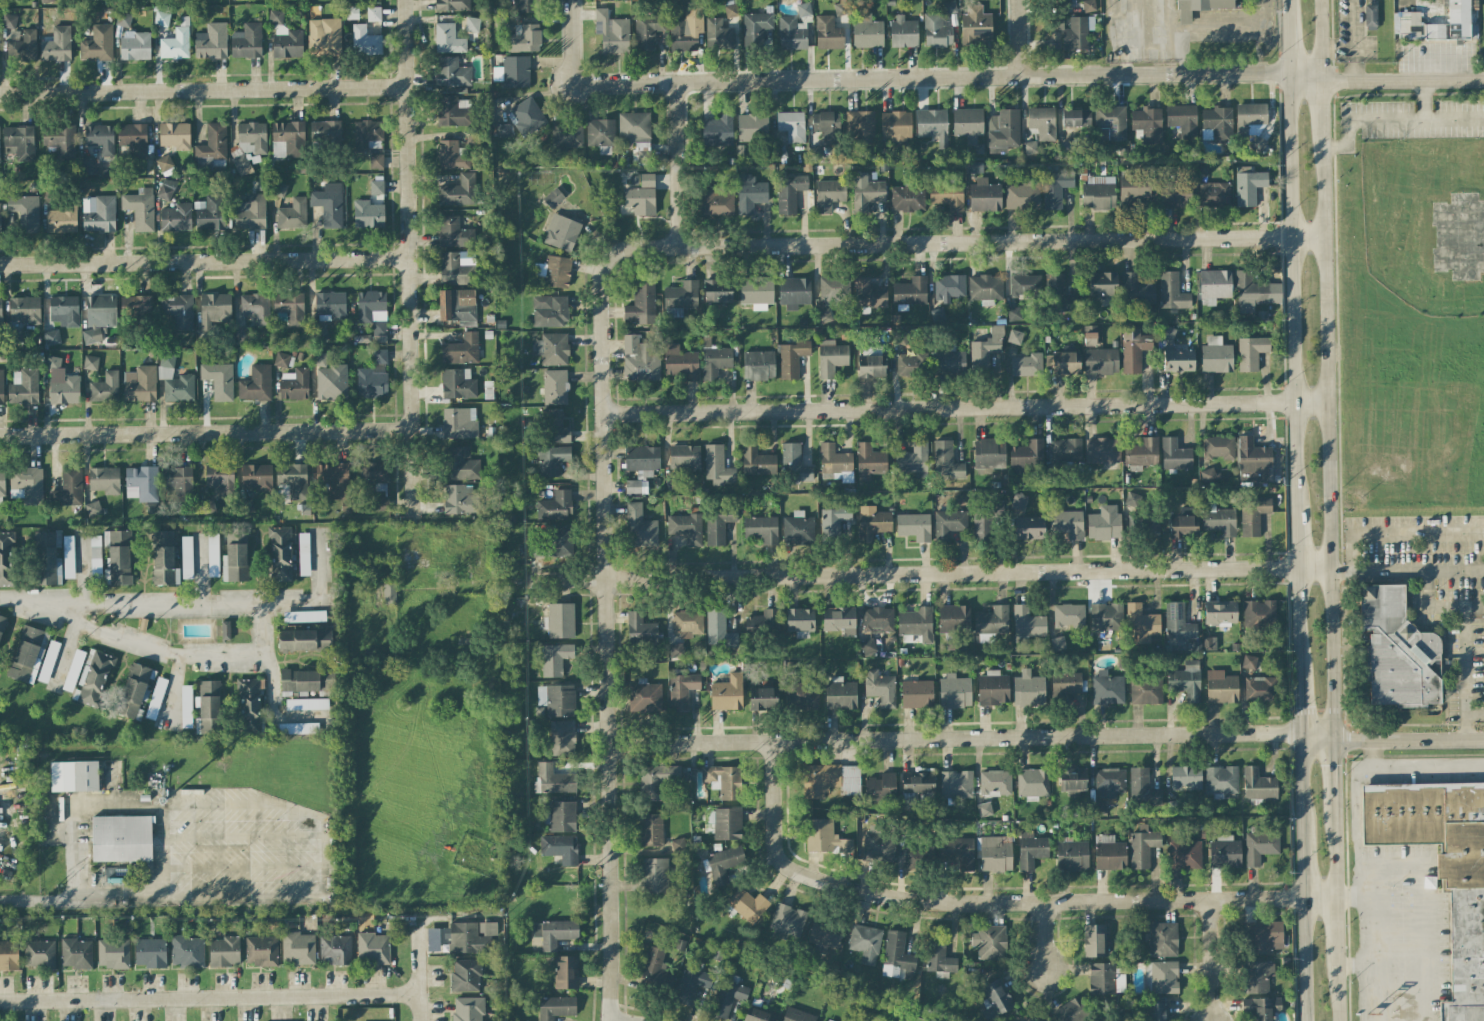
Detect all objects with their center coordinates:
building: (232, 0)
building: (45, 1)
building: (452, 5)
building: (1088, 5)
flagpole: (1334, 5)
building: (525, 6)
building: (1199, 8)
building: (803, 9)
building: (840, 9)
road: (1284, 10)
building: (730, 11)
building: (693, 12)
building: (373, 14)
flagpole: (1335, 15)
building: (1371, 16)
building: (275, 17)
building: (122, 19)
building: (9, 21)
flagpole: (1335, 23)
building: (1452, 23)
building: (1408, 24)
building: (471, 25)
building: (975, 25)
building: (939, 26)
building: (757, 29)
building: (611, 31)
building: (647, 31)
flagpole: (1335, 31)
building: (866, 32)
building: (903, 32)
building: (827, 33)
building: (1076, 33)
building: (718, 34)
building: (791, 34)
building: (324, 36)
building: (682, 36)
road: (1261, 36)
road: (1021, 37)
road: (1180, 38)
building: (447, 39)
building: (524, 39)
road: (1317, 39)
building: (246, 41)
building: (364, 41)
flagpole: (1335, 41)
road: (1354, 41)
building: (62, 42)
building: (176, 42)
building: (212, 42)
building: (97, 43)
building: (21, 45)
building: (135, 46)
road: (1285, 47)
flagpole: (1335, 50)
road: (574, 51)
road: (1125, 52)
flagpole: (1335, 58)
flagpole: (1347, 62)
flagpole: (1360, 62)
building: (515, 71)
building: (451, 72)
road: (959, 75)
road: (1400, 81)
road: (204, 90)
road: (1422, 100)
road: (1318, 102)
building: (453, 111)
building: (526, 117)
building: (1075, 117)
building: (1249, 117)
building: (1182, 119)
road: (1388, 120)
building: (1041, 122)
building: (1110, 123)
building: (1148, 123)
building: (1218, 123)
building: (932, 125)
building: (752, 126)
building: (791, 126)
building: (827, 127)
building: (860, 127)
building: (895, 127)
building: (1003, 129)
building: (502, 130)
building: (324, 131)
building: (717, 131)
building: (635, 133)
building: (566, 134)
building: (600, 134)
building: (174, 135)
building: (252, 135)
building: (366, 136)
building: (100, 138)
building: (287, 139)
building: (60, 140)
building: (133, 140)
building: (19, 142)
building: (211, 147)
building: (1030, 147)
building: (815, 152)
building: (451, 155)
building: (244, 157)
building: (375, 161)
building: (164, 163)
road: (678, 164)
building: (86, 165)
building: (973, 167)
building: (1248, 185)
building: (376, 187)
building: (1055, 188)
building: (166, 189)
building: (1133, 189)
building: (279, 190)
building: (458, 192)
building: (787, 192)
building: (749, 193)
building: (1098, 193)
building: (1213, 194)
building: (828, 195)
building: (867, 195)
building: (1176, 195)
building: (641, 196)
building: (946, 196)
building: (984, 196)
building: (1022, 196)
building: (907, 197)
building: (553, 198)
building: (716, 201)
building: (328, 204)
building: (140, 208)
building: (25, 212)
building: (98, 213)
building: (210, 213)
building: (250, 213)
building: (292, 214)
building: (367, 214)
building: (176, 217)
building: (60, 219)
building: (0, 230)
building: (561, 232)
building: (453, 233)
road: (936, 242)
road: (411, 260)
road: (205, 262)
building: (457, 267)
building: (555, 271)
building: (1054, 284)
building: (1102, 284)
building: (1025, 285)
building: (1214, 286)
building: (948, 287)
building: (985, 288)
building: (717, 290)
building: (834, 290)
building: (1136, 290)
building: (910, 291)
building: (1171, 291)
building: (755, 292)
building: (794, 292)
building: (1249, 292)
building: (868, 294)
road: (1289, 294)
building: (680, 298)
building: (641, 303)
building: (136, 304)
building: (330, 305)
building: (457, 306)
building: (255, 307)
building: (290, 308)
building: (24, 309)
building: (213, 309)
building: (178, 310)
building: (64, 311)
building: (549, 311)
building: (373, 312)
building: (937, 316)
building: (0, 317)
building: (98, 317)
building: (319, 333)
building: (1089, 335)
building: (12, 336)
building: (900, 337)
building: (1014, 337)
building: (51, 338)
building: (551, 349)
building: (1133, 349)
building: (461, 350)
building: (985, 350)
building: (1250, 352)
building: (1175, 355)
building: (379, 356)
building: (1215, 356)
building: (830, 357)
building: (320, 359)
building: (639, 359)
building: (714, 359)
building: (791, 359)
building: (281, 360)
building: (1100, 361)
building: (53, 363)
building: (90, 363)
building: (680, 363)
building: (948, 363)
building: (1064, 363)
building: (911, 364)
building: (758, 365)
building: (1026, 365)
building: (870, 367)
building: (218, 380)
building: (174, 381)
building: (331, 382)
building: (370, 383)
building: (140, 384)
building: (255, 384)
building: (294, 384)
building: (457, 384)
building: (1, 387)
building: (23, 387)
building: (554, 387)
building: (104, 388)
building: (64, 389)
road: (964, 408)
building: (459, 423)
building: (555, 427)
road: (207, 433)
road: (1325, 433)
building: (1218, 447)
building: (1065, 449)
building: (1102, 450)
building: (989, 453)
building: (1142, 453)
building: (1174, 455)
building: (684, 457)
building: (790, 457)
building: (1026, 457)
building: (869, 458)
building: (912, 458)
building: (551, 459)
building: (756, 461)
building: (833, 461)
building: (945, 461)
building: (1253, 461)
building: (461, 464)
building: (640, 465)
building: (716, 466)
building: (374, 475)
building: (1208, 475)
building: (256, 477)
building: (220, 479)
building: (334, 479)
building: (104, 480)
building: (292, 480)
building: (141, 483)
building: (178, 483)
building: (672, 483)
building: (26, 485)
building: (1, 487)
building: (68, 487)
building: (1132, 499)
building: (460, 500)
building: (1019, 502)
building: (381, 503)
building: (207, 506)
building: (555, 506)
building: (92, 508)
building: (1252, 516)
building: (1217, 519)
building: (834, 520)
building: (984, 522)
building: (872, 523)
building: (1103, 523)
building: (948, 524)
building: (1066, 524)
building: (913, 526)
building: (639, 527)
building: (685, 527)
building: (1181, 527)
building: (1028, 528)
building: (761, 529)
building: (797, 529)
building: (559, 541)
road: (1293, 541)
building: (535, 550)
building: (280, 553)
building: (303, 554)
building: (213, 555)
building: (95, 556)
building: (235, 556)
building: (68, 557)
building: (186, 557)
building: (47, 558)
building: (6, 559)
building: (117, 559)
building: (163, 559)
road: (1398, 560)
road: (966, 573)
road: (553, 581)
building: (388, 592)
road: (175, 600)
road: (1464, 600)
building: (1219, 612)
building: (1068, 615)
building: (304, 616)
building: (1105, 616)
building: (1257, 616)
building: (953, 619)
building: (560, 620)
building: (839, 620)
building: (877, 620)
building: (991, 621)
building: (762, 622)
building: (799, 622)
building: (1027, 622)
road: (1295, 622)
building: (1, 623)
building: (687, 623)
building: (916, 623)
building: (1140, 624)
building: (715, 626)
building: (1177, 626)
building: (640, 629)
building: (225, 630)
building: (304, 640)
building: (953, 643)
building: (1057, 643)
building: (1209, 643)
building: (867, 647)
building: (675, 650)
building: (1397, 651)
building: (27, 654)
road: (169, 656)
building: (554, 659)
building: (47, 661)
building: (1248, 662)
road: (608, 665)
building: (73, 670)
building: (95, 679)
building: (307, 680)
building: (1185, 680)
building: (1065, 684)
building: (1220, 687)
building: (880, 688)
building: (992, 688)
building: (1259, 688)
building: (1028, 689)
building: (1145, 689)
building: (134, 690)
road: (171, 691)
building: (681, 691)
building: (954, 691)
building: (727, 693)
building: (839, 694)
building: (916, 694)
building: (801, 696)
building: (155, 697)
building: (644, 697)
building: (761, 699)
building: (556, 700)
building: (250, 704)
building: (306, 704)
building: (185, 706)
road: (1298, 706)
building: (209, 707)
road: (1475, 713)
building: (296, 728)
traffic signals: (1299, 736)
road: (1047, 737)
building: (562, 738)
traffic signals: (1330, 741)
road: (1370, 753)
building: (73, 776)
building: (1185, 778)
road: (1331, 778)
building: (553, 780)
building: (656, 780)
building: (723, 780)
building: (830, 780)
building: (1072, 780)
building: (1220, 780)
building: (917, 782)
building: (994, 782)
building: (1109, 782)
building: (1032, 783)
building: (955, 784)
building: (1139, 784)
building: (1258, 784)
building: (881, 787)
road: (1299, 791)
road: (158, 804)
building: (1098, 808)
building: (983, 809)
building: (560, 816)
building: (650, 829)
road: (245, 836)
building: (824, 837)
building: (121, 838)
road: (1356, 842)
building: (678, 845)
building: (1142, 846)
building: (1259, 846)
building: (878, 847)
building: (559, 848)
building: (1030, 850)
building: (1184, 852)
building: (1224, 852)
building: (959, 853)
building: (1109, 853)
building: (995, 854)
building: (1071, 855)
road: (1331, 857)
building: (913, 858)
building: (724, 863)
road: (246, 866)
road: (324, 868)
building: (1442, 868)
road: (1300, 873)
building: (654, 875)
road: (1354, 897)
road: (39, 899)
road: (992, 902)
road: (431, 905)
building: (747, 905)
building: (787, 922)
road: (1421, 922)
road: (1332, 932)
building: (554, 933)
building: (824, 934)
building: (470, 937)
road: (1046, 937)
building: (1266, 937)
building: (432, 939)
building: (1162, 939)
building: (1093, 940)
building: (989, 942)
building: (865, 943)
building: (298, 948)
building: (372, 948)
building: (334, 950)
building: (223, 951)
building: (260, 951)
building: (186, 952)
building: (76, 953)
building: (112, 953)
building: (150, 953)
building: (38, 954)
building: (8, 955)
building: (897, 957)
building: (939, 959)
road: (1300, 960)
road: (1207, 961)
building: (653, 966)
road: (1356, 966)
building: (565, 972)
building: (465, 975)
building: (1104, 977)
building: (1161, 977)
building: (1257, 977)
building: (690, 984)
road: (1333, 994)
road: (210, 995)
building: (728, 997)
building: (993, 1000)
building: (555, 1007)
building: (1260, 1008)
building: (467, 1009)
building: (1156, 1009)
building: (1072, 1010)
building: (758, 1015)
building: (796, 1015)
road: (621, 1019)
building: (819, 1020)

